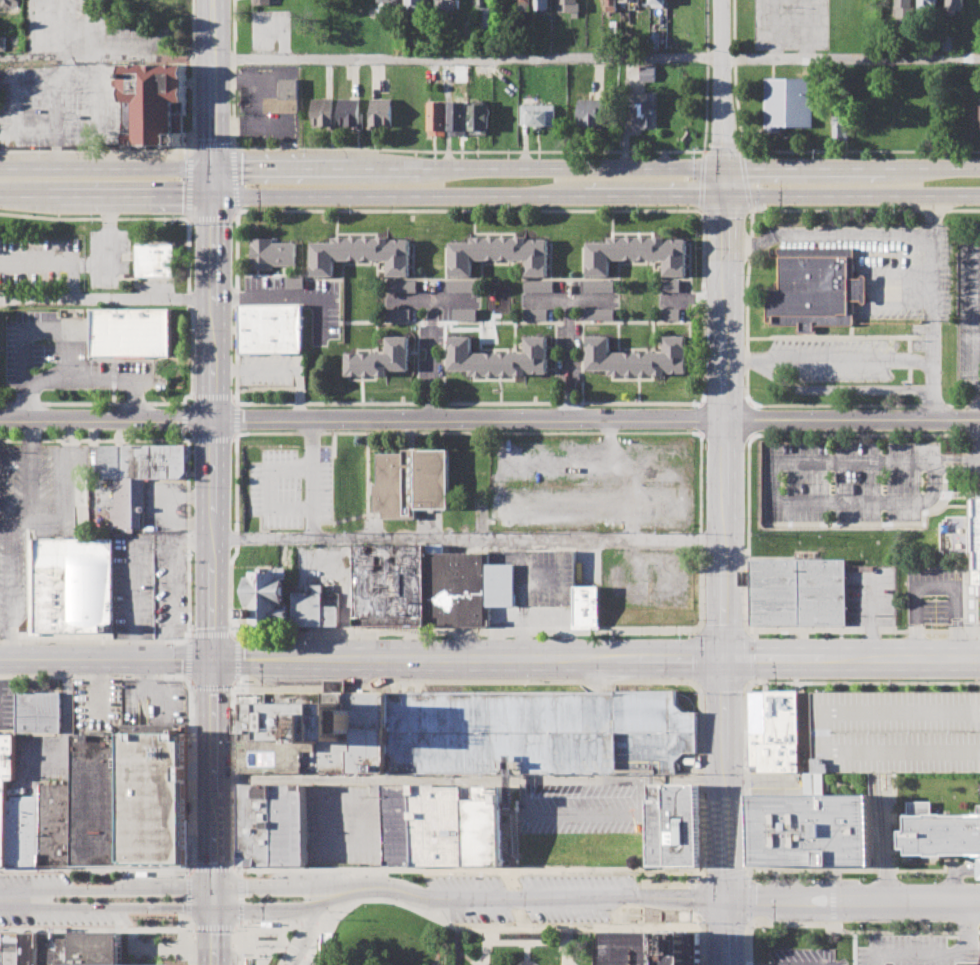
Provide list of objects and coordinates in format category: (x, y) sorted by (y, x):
building: (630, 0)
building: (263, 2)
building: (10, 3)
building: (416, 3)
building: (541, 4)
building: (657, 4)
building: (929, 4)
building: (447, 5)
building: (525, 5)
building: (388, 6)
building: (569, 6)
building: (610, 6)
building: (905, 6)
building: (955, 6)
building: (485, 13)
building: (506, 15)
parking lot: (791, 25)
road: (775, 28)
road: (808, 28)
parking lot: (93, 30)
building: (653, 40)
building: (3, 43)
building: (949, 43)
road: (107, 57)
road: (596, 58)
building: (646, 73)
road: (724, 84)
road: (213, 85)
building: (284, 97)
building: (787, 103)
building: (153, 104)
parking lot: (59, 105)
building: (644, 110)
building: (323, 112)
building: (349, 112)
building: (380, 112)
building: (592, 112)
building: (538, 114)
building: (438, 117)
building: (458, 118)
building: (480, 118)
building: (841, 122)
road: (169, 151)
road: (106, 169)
road: (596, 169)
traffic signals: (724, 169)
traffic signals: (212, 170)
road: (211, 184)
road: (595, 196)
traffic signals: (724, 196)
road: (105, 197)
traffic signals: (211, 198)
road: (933, 208)
road: (975, 232)
road: (107, 235)
road: (860, 235)
road: (749, 244)
building: (271, 253)
building: (500, 253)
building: (638, 253)
building: (361, 254)
parking lot: (36, 261)
building: (155, 261)
road: (53, 262)
road: (932, 276)
building: (294, 282)
building: (539, 285)
building: (671, 285)
building: (401, 286)
building: (461, 286)
building: (599, 286)
building: (816, 288)
road: (105, 299)
road: (409, 299)
road: (570, 299)
road: (694, 299)
parking lot: (300, 300)
parking lot: (431, 300)
parking lot: (569, 300)
parking lot: (675, 300)
parking lot: (969, 308)
road: (974, 312)
building: (398, 313)
building: (672, 313)
building: (465, 314)
building: (536, 314)
building: (599, 314)
road: (40, 327)
building: (270, 328)
building: (130, 332)
road: (432, 335)
road: (933, 339)
parking lot: (431, 353)
parking lot: (569, 353)
building: (637, 356)
building: (499, 357)
building: (380, 358)
road: (570, 358)
parking lot: (65, 359)
road: (830, 361)
road: (277, 369)
parking lot: (272, 370)
road: (82, 378)
road: (977, 387)
road: (934, 390)
road: (974, 402)
road: (726, 414)
road: (489, 418)
road: (210, 427)
road: (466, 432)
road: (766, 434)
road: (233, 437)
road: (211, 438)
road: (96, 439)
road: (935, 464)
parking lot: (979, 466)
road: (33, 470)
building: (137, 476)
road: (313, 477)
parking lot: (850, 481)
building: (411, 482)
road: (70, 486)
parking lot: (291, 487)
road: (773, 495)
parking lot: (35, 516)
road: (25, 524)
road: (8, 526)
road: (467, 536)
road: (4, 538)
building: (978, 541)
building: (70, 584)
building: (389, 584)
parking lot: (149, 586)
road: (940, 586)
building: (469, 587)
road: (9, 590)
road: (966, 591)
building: (775, 592)
building: (823, 592)
parking lot: (876, 594)
parking lot: (938, 594)
building: (265, 598)
building: (588, 604)
building: (315, 607)
road: (979, 610)
road: (875, 616)
road: (968, 629)
road: (857, 630)
road: (466, 632)
road: (232, 636)
road: (188, 638)
road: (93, 641)
road: (104, 658)
traffic signals: (209, 658)
road: (466, 658)
traffic signals: (724, 659)
road: (852, 659)
road: (186, 678)
road: (230, 678)
road: (187, 681)
road: (745, 682)
road: (862, 682)
building: (36, 711)
building: (906, 727)
building: (776, 731)
building: (312, 732)
building: (539, 732)
parking lot: (895, 733)
road: (210, 772)
building: (4, 774)
road: (724, 778)
road: (468, 780)
building: (148, 799)
building: (88, 800)
parking lot: (346, 824)
building: (400, 824)
building: (439, 824)
building: (658, 824)
building: (682, 824)
building: (51, 825)
building: (255, 825)
building: (288, 825)
building: (813, 829)
building: (483, 831)
building: (19, 832)
building: (944, 835)
road: (883, 841)
road: (211, 868)
road: (237, 869)
road: (96, 870)
road: (187, 873)
traffic signals: (213, 886)
road: (275, 886)
road: (121, 887)
road: (852, 889)
road: (186, 895)
road: (213, 897)
road: (238, 898)
road: (529, 898)
traffic signals: (725, 898)
road: (16, 899)
road: (323, 901)
road: (395, 903)
road: (121, 907)
road: (831, 907)
traffic signals: (213, 909)
road: (261, 909)
road: (851, 911)
road: (966, 920)
road: (186, 921)
road: (723, 922)
road: (238, 923)
road: (306, 923)
road: (316, 923)
road: (598, 926)
road: (861, 926)
road: (212, 927)
road: (269, 927)
road: (97, 929)
road: (725, 931)
road: (487, 934)
road: (280, 935)
road: (213, 937)
road: (298, 937)
park: (388, 938)
road: (247, 941)
road: (702, 941)
building: (323, 942)
road: (513, 942)
road: (256, 944)
road: (748, 944)
road: (269, 945)
road: (188, 946)
road: (238, 946)
road: (567, 947)
building: (49, 948)
building: (649, 948)
parking lot: (914, 948)
building: (8, 949)
building: (26, 949)
building: (87, 949)
road: (292, 950)
road: (455, 950)
road: (908, 951)
road: (973, 951)
road: (525, 953)
road: (302, 956)
parking lot: (804, 957)
road: (478, 960)

